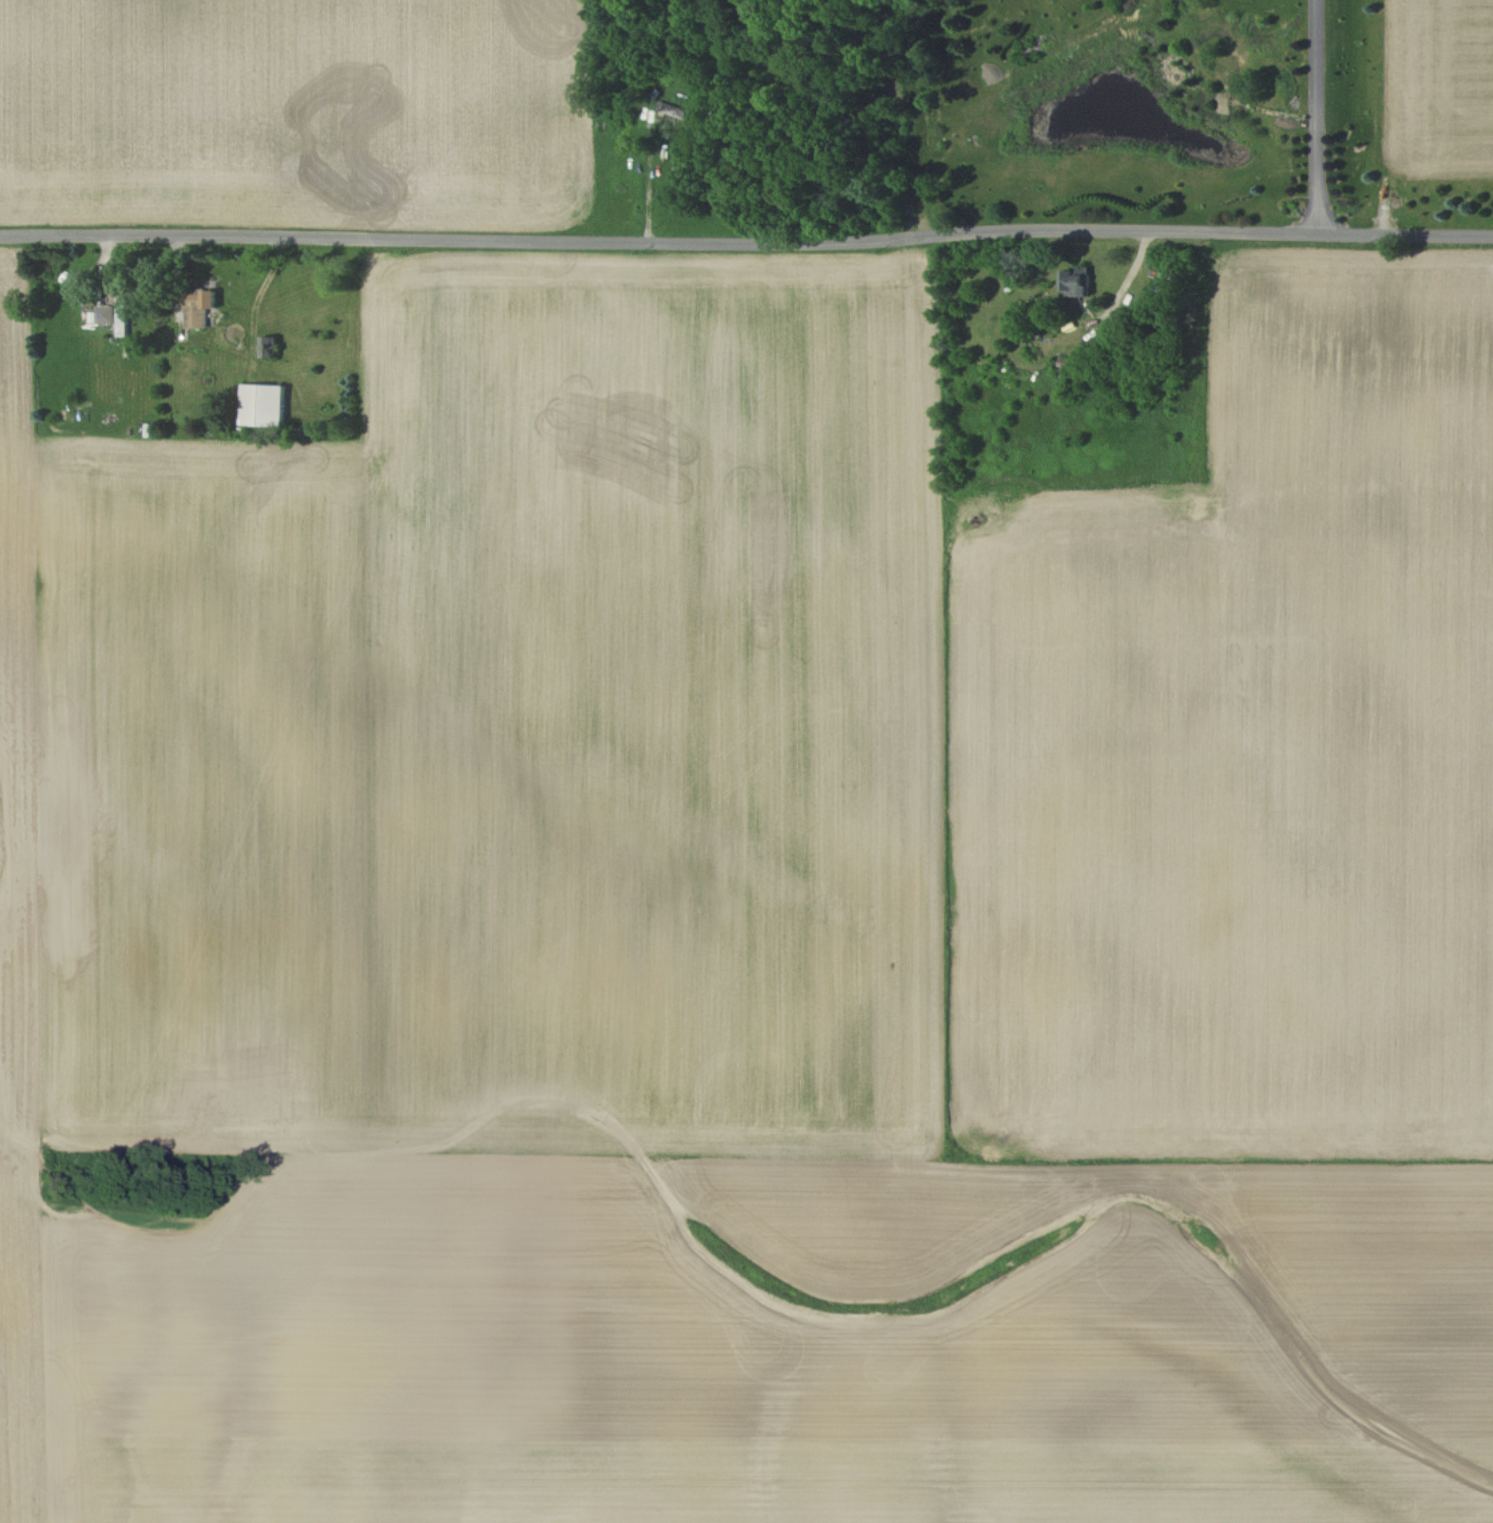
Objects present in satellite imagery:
road: (1319, 117)
road: (747, 245)
building: (1075, 281)
building: (212, 297)
building: (106, 313)
building: (265, 403)

